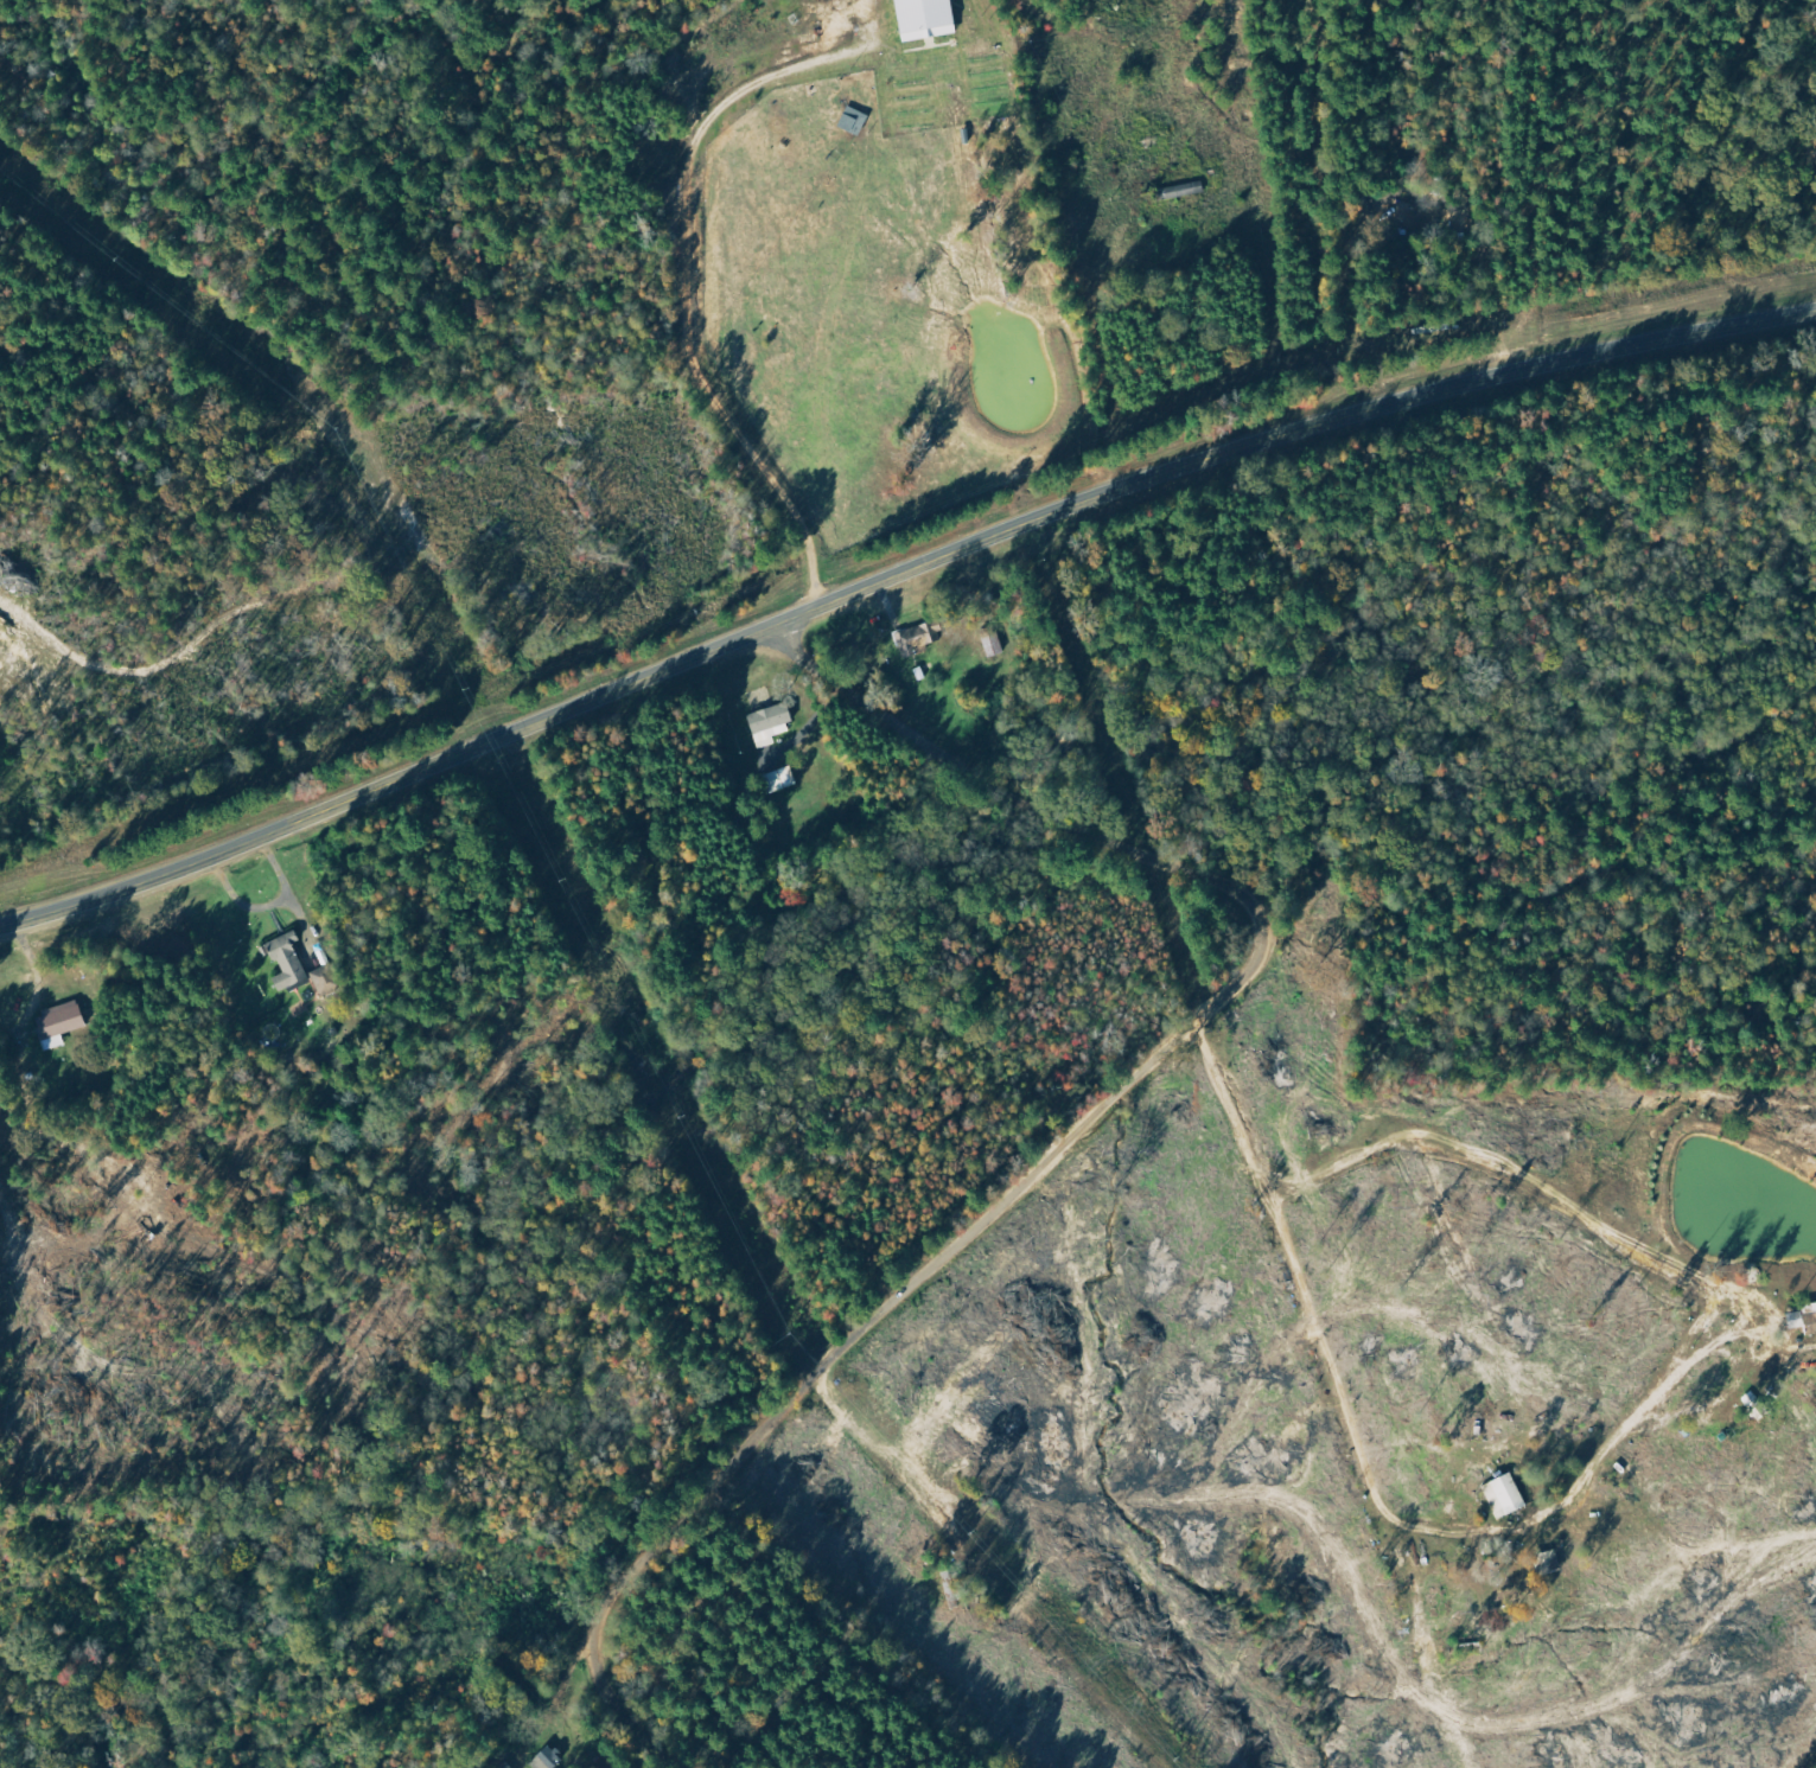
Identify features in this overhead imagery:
building: (926, 17)
building: (855, 121)
building: (1400, 209)
road: (894, 576)
building: (922, 638)
building: (772, 725)
building: (780, 780)
building: (288, 960)
building: (326, 979)
building: (60, 1025)
road: (1078, 1130)
building: (1815, 1307)
building: (1506, 1496)
building: (1547, 1564)

